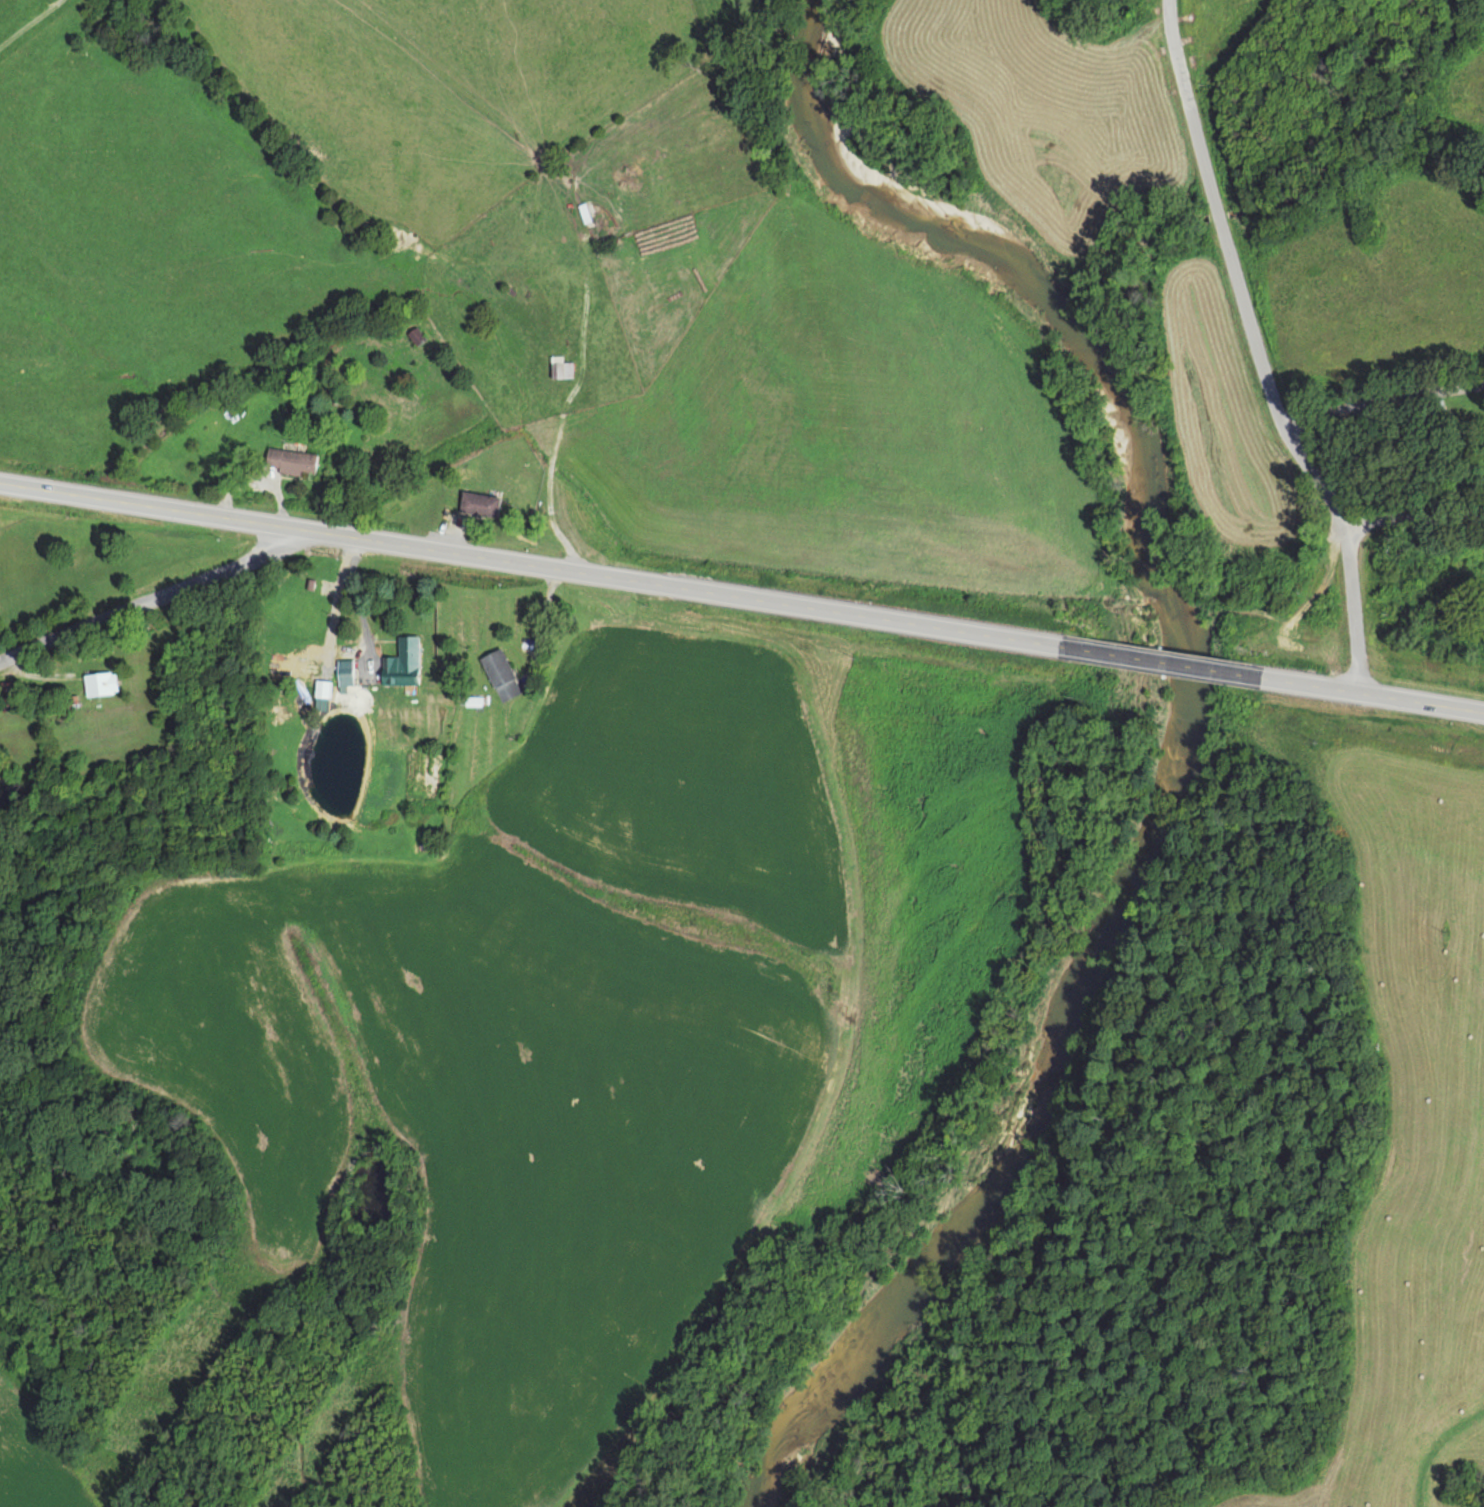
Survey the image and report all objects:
road: (1218, 213)
building: (415, 334)
building: (559, 367)
road: (1382, 400)
building: (290, 460)
building: (479, 504)
road: (1414, 517)
road: (1346, 548)
road: (533, 563)
road: (147, 599)
road: (1161, 662)
building: (401, 663)
building: (499, 674)
building: (100, 683)
road: (1370, 694)
river: (1180, 731)

